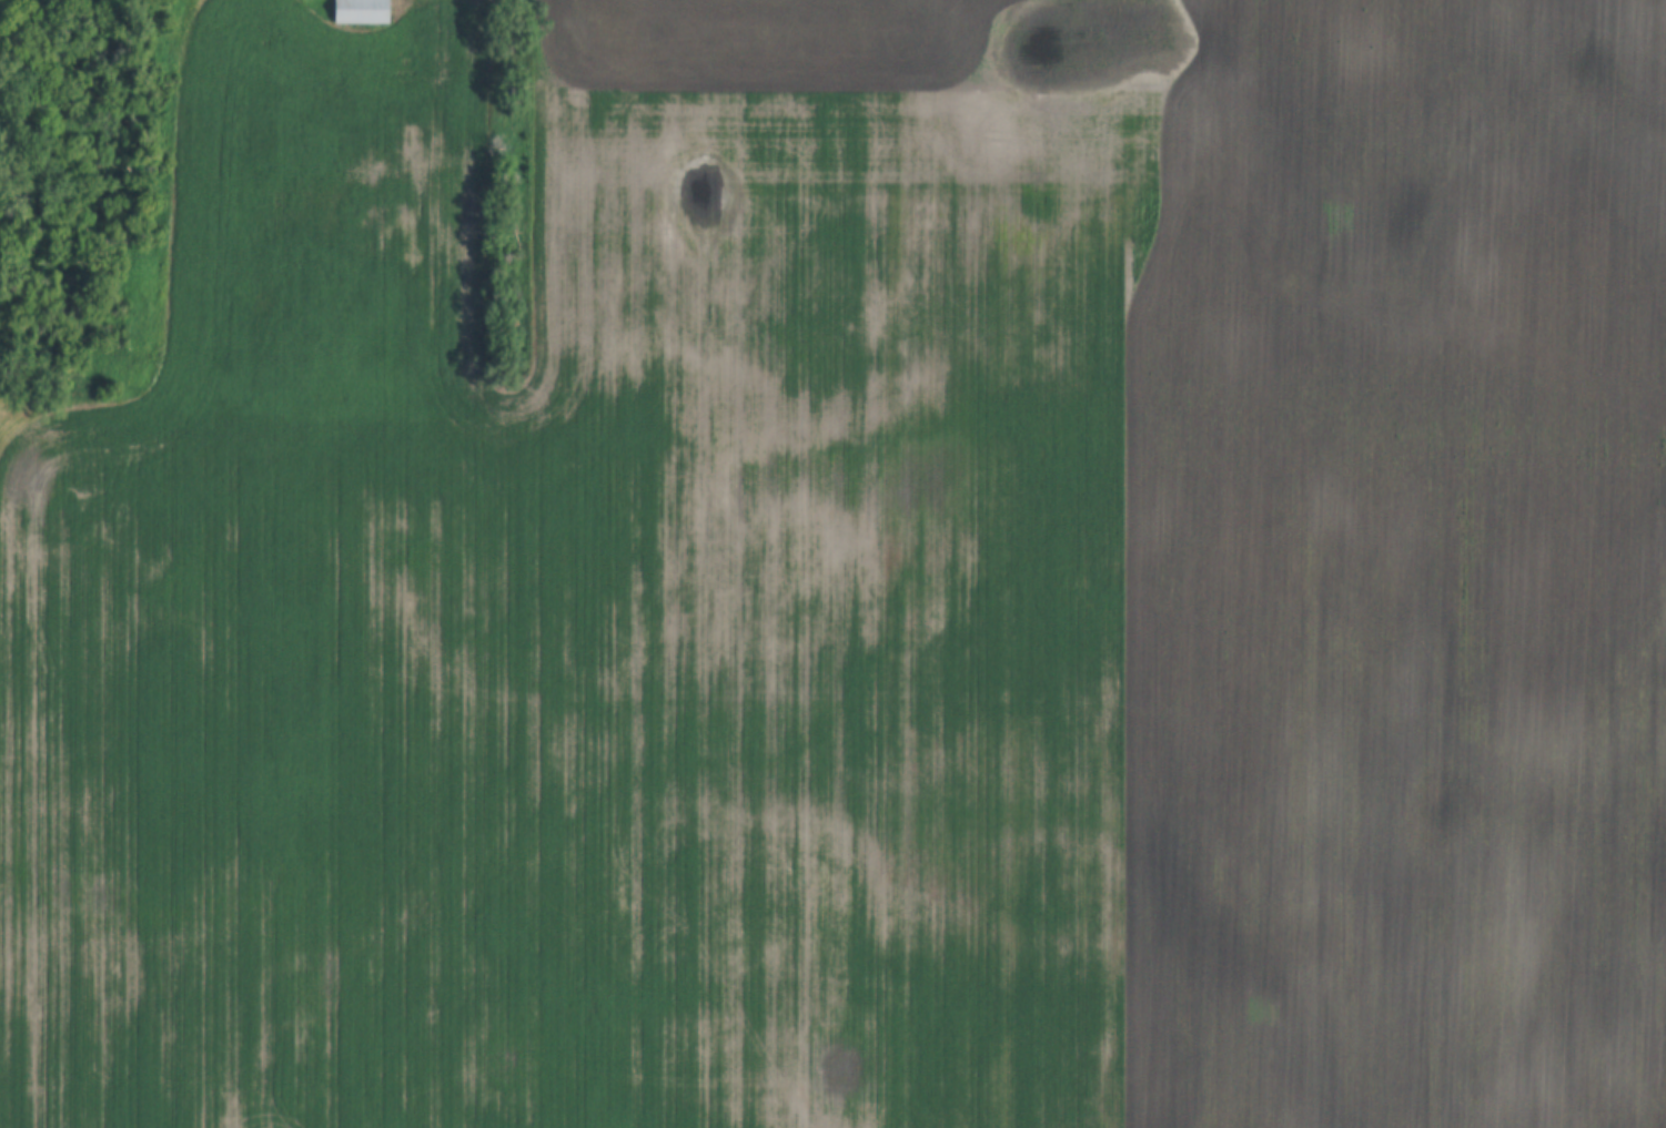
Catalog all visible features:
building: (359, 11)

